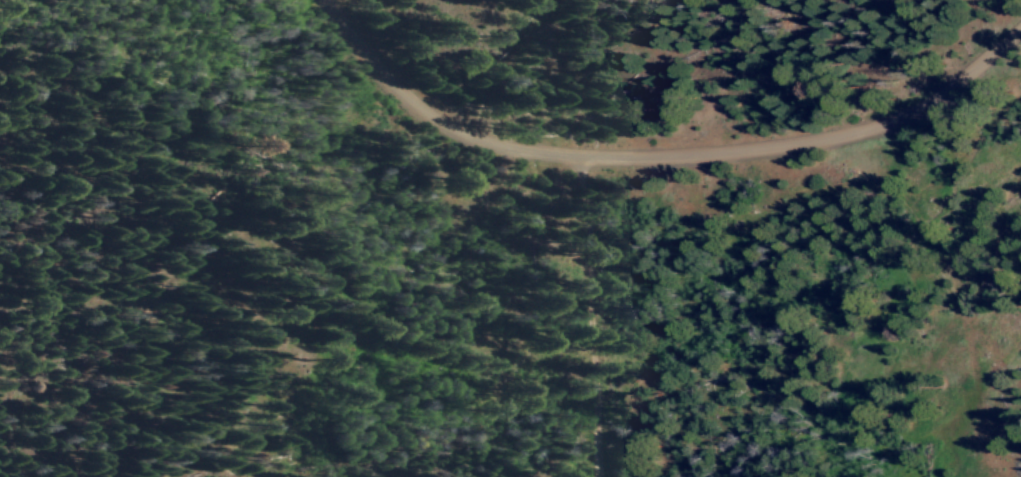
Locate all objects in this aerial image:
road: (658, 158)
road: (898, 261)
road: (589, 319)

